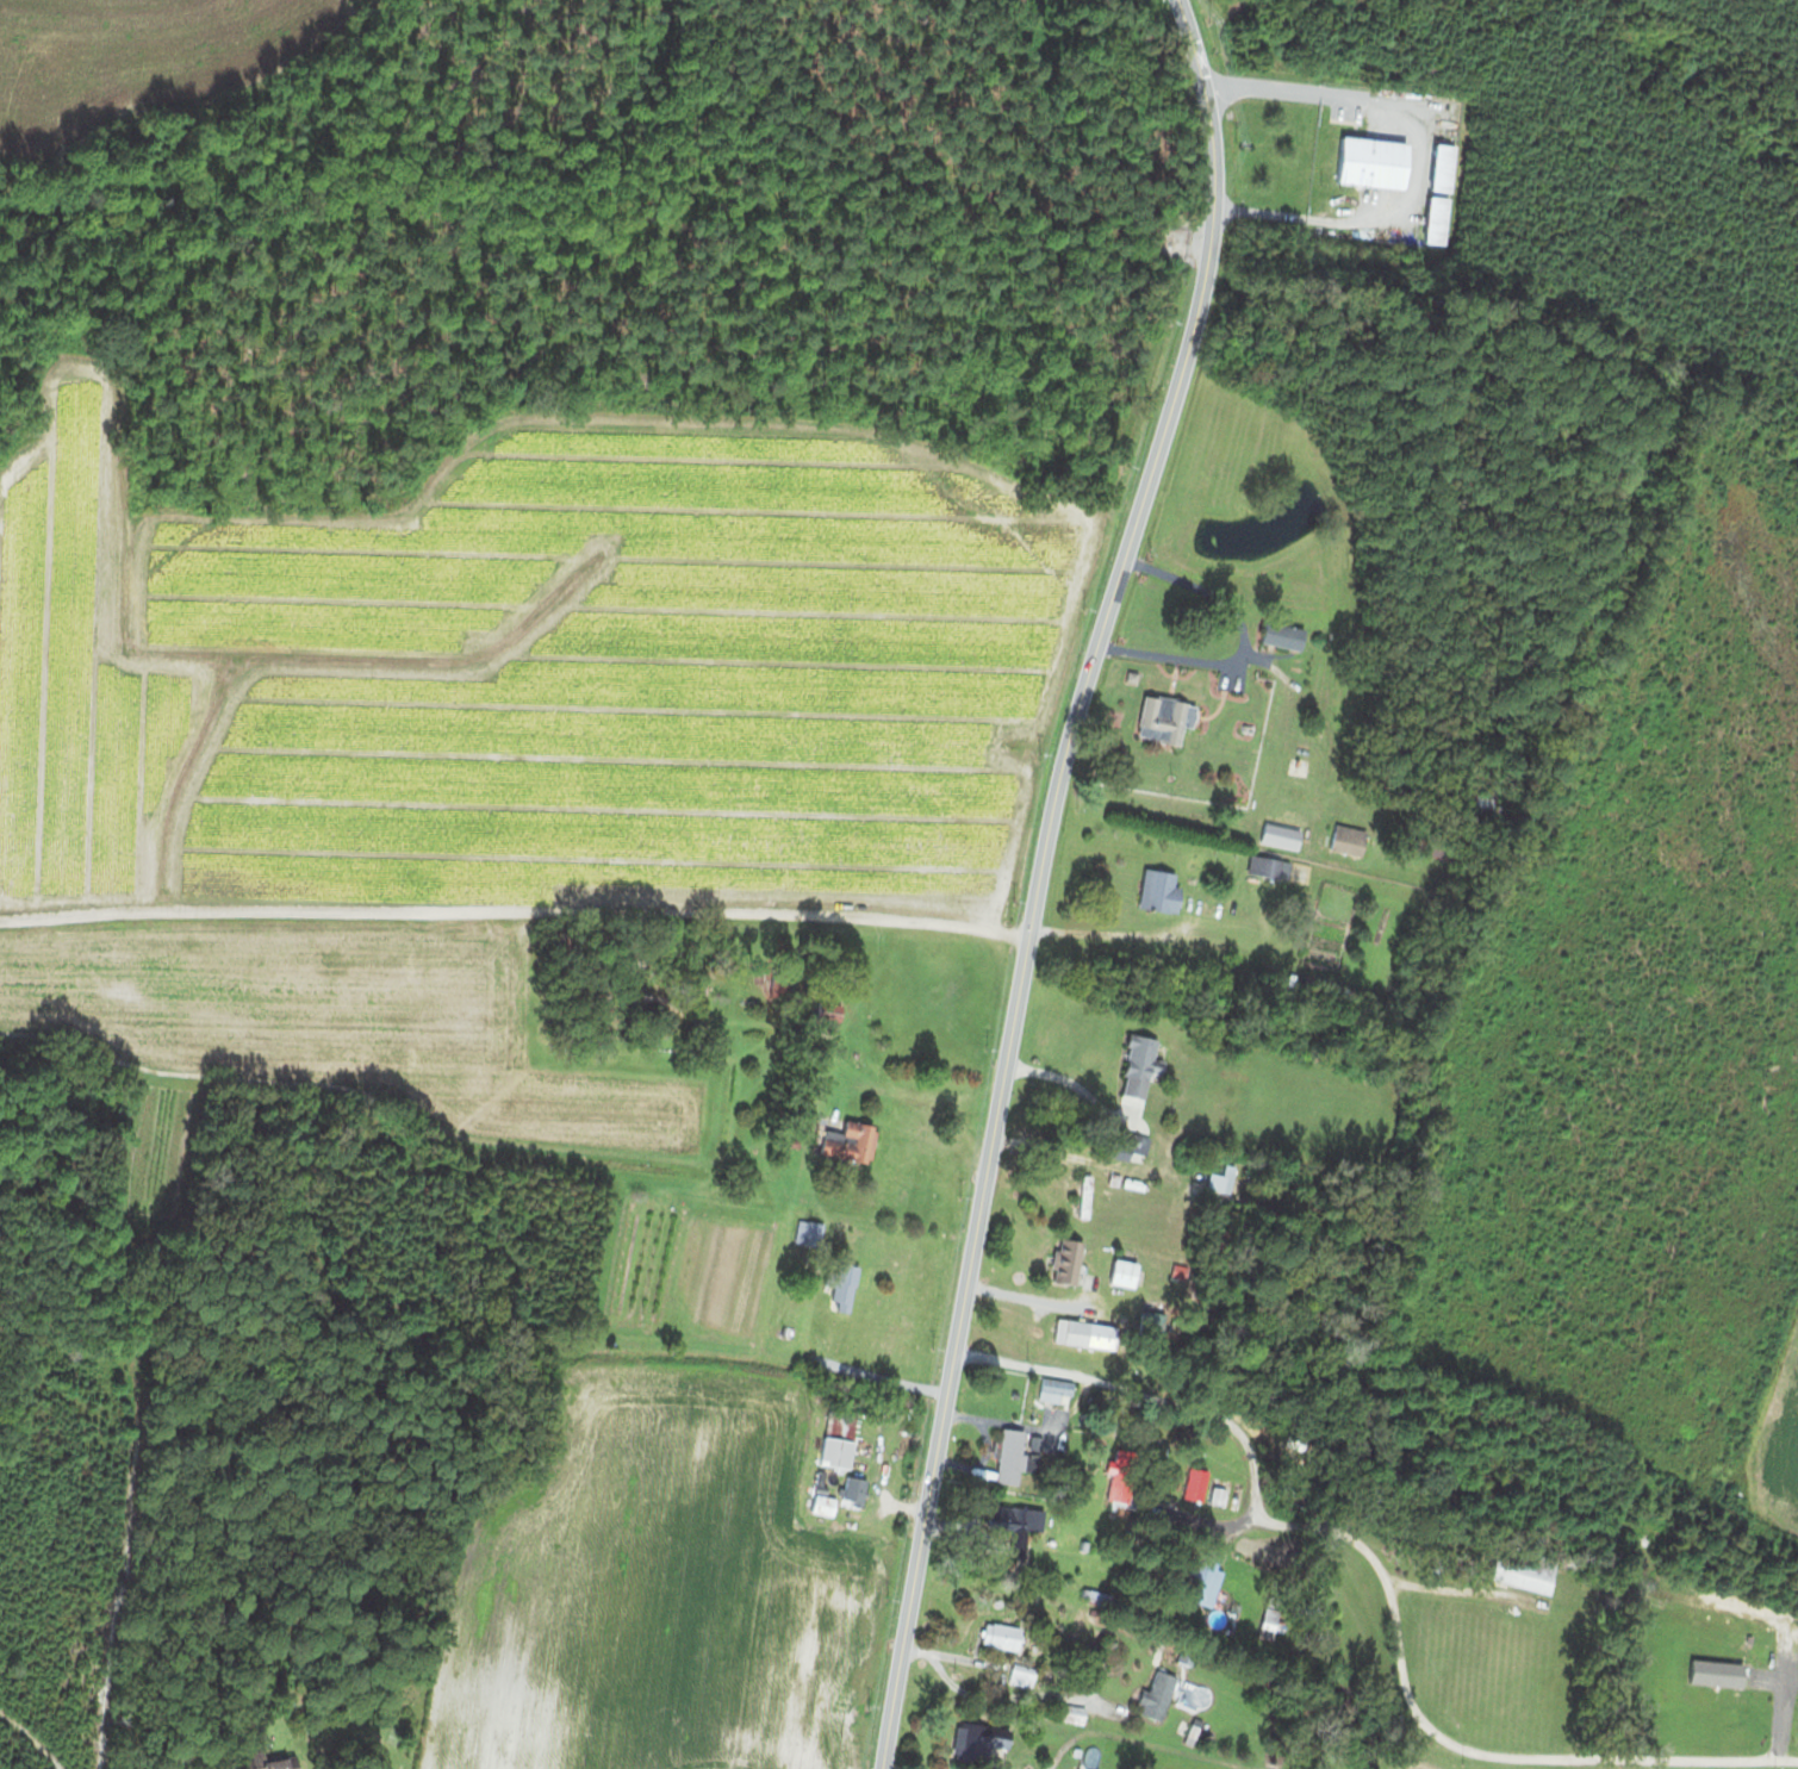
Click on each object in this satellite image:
road: (1416, 158)
building: (1375, 162)
building: (1427, 219)
building: (1278, 634)
road: (1237, 642)
building: (1158, 718)
building: (1251, 867)
road: (1040, 878)
building: (1152, 890)
road: (515, 912)
road: (1102, 935)
building: (771, 982)
building: (820, 1013)
building: (1133, 1065)
road: (1059, 1077)
building: (839, 1139)
building: (1209, 1181)
building: (800, 1231)
building: (1058, 1259)
building: (1115, 1271)
building: (834, 1284)
building: (1144, 1320)
building: (1078, 1332)
road: (883, 1379)
building: (1050, 1388)
building: (832, 1438)
building: (1002, 1456)
building: (1212, 1495)
building: (816, 1503)
building: (1009, 1524)
building: (1514, 1574)
building: (1196, 1575)
road: (1383, 1577)
building: (994, 1636)
building: (1016, 1674)
building: (1150, 1694)
building: (1065, 1712)
building: (977, 1742)
building: (269, 1762)
road: (1045, 1764)
road: (888, 1767)

